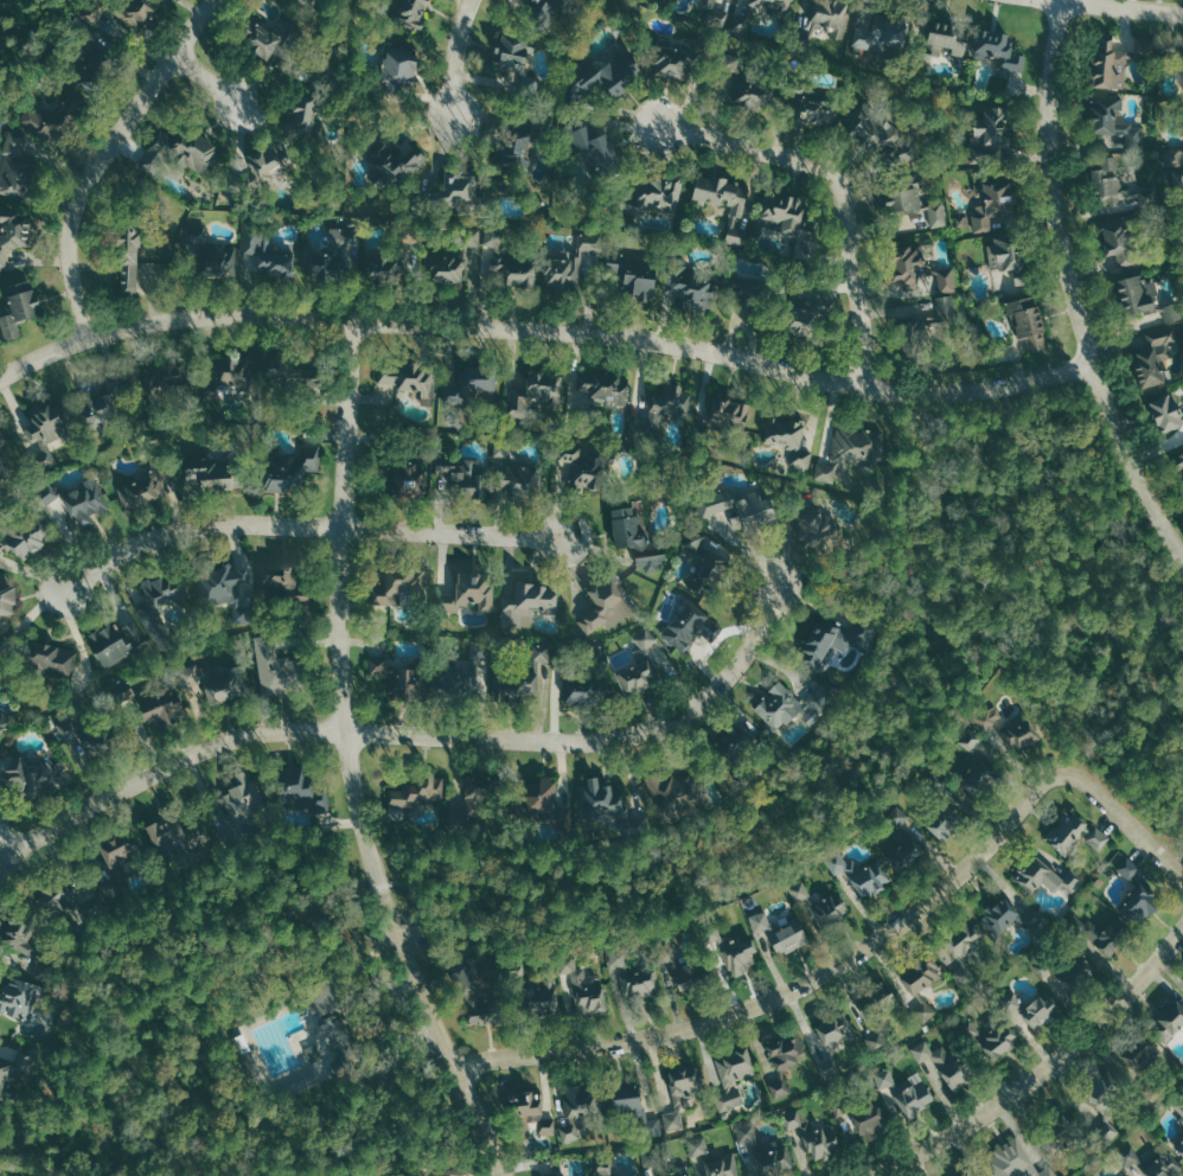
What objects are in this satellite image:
building: (303, 1)
building: (774, 6)
road: (1119, 6)
building: (409, 13)
road: (9, 14)
building: (545, 14)
building: (123, 15)
building: (712, 15)
building: (831, 17)
building: (881, 33)
building: (946, 36)
building: (260, 38)
building: (89, 41)
building: (998, 50)
road: (454, 53)
building: (1117, 58)
building: (671, 60)
building: (1182, 60)
building: (514, 62)
building: (90, 66)
building: (397, 73)
road: (209, 78)
building: (603, 79)
building: (748, 96)
building: (808, 109)
building: (52, 115)
building: (302, 115)
building: (1112, 119)
building: (881, 138)
building: (990, 140)
building: (180, 152)
building: (519, 152)
building: (596, 152)
building: (1172, 155)
road: (103, 156)
building: (396, 162)
building: (266, 164)
building: (15, 166)
building: (1177, 178)
building: (1119, 185)
road: (843, 186)
building: (456, 192)
building: (650, 198)
building: (991, 200)
building: (914, 202)
building: (725, 204)
building: (782, 216)
building: (9, 235)
building: (1128, 238)
building: (806, 244)
building: (210, 254)
building: (1010, 254)
building: (128, 255)
building: (331, 255)
building: (264, 257)
building: (450, 260)
building: (507, 263)
building: (909, 263)
building: (383, 266)
building: (569, 267)
building: (633, 275)
building: (143, 276)
building: (946, 281)
road: (1072, 287)
building: (689, 289)
building: (1144, 296)
building: (18, 307)
building: (947, 308)
building: (800, 321)
building: (1027, 322)
road: (544, 326)
building: (910, 339)
building: (1156, 353)
building: (234, 373)
building: (282, 373)
building: (410, 383)
building: (478, 385)
building: (546, 385)
building: (314, 388)
building: (602, 392)
building: (669, 404)
building: (519, 407)
building: (95, 410)
building: (1166, 410)
building: (728, 411)
building: (45, 432)
building: (791, 443)
building: (851, 446)
building: (501, 449)
building: (6, 453)
building: (1178, 460)
building: (290, 467)
building: (575, 469)
building: (826, 471)
building: (212, 475)
building: (409, 477)
building: (465, 478)
building: (519, 481)
building: (141, 488)
building: (79, 500)
road: (1048, 505)
building: (736, 513)
building: (819, 525)
road: (309, 526)
building: (28, 538)
building: (637, 538)
building: (0, 558)
building: (711, 558)
building: (282, 574)
building: (230, 587)
building: (392, 587)
road: (874, 592)
building: (468, 593)
building: (300, 599)
building: (7, 600)
building: (527, 601)
building: (608, 606)
building: (689, 626)
building: (831, 643)
building: (117, 644)
building: (53, 660)
building: (274, 665)
building: (641, 665)
building: (525, 675)
building: (217, 678)
building: (397, 678)
building: (581, 690)
building: (780, 705)
building: (161, 708)
building: (989, 717)
building: (4, 720)
building: (1024, 731)
road: (408, 734)
building: (971, 739)
road: (350, 760)
building: (978, 775)
building: (32, 778)
building: (936, 781)
building: (301, 791)
building: (418, 791)
building: (475, 791)
building: (542, 793)
building: (674, 794)
building: (244, 795)
building: (603, 799)
building: (403, 812)
building: (945, 819)
building: (1066, 830)
building: (171, 835)
road: (7, 838)
building: (1100, 838)
building: (903, 841)
building: (115, 851)
road: (1178, 856)
road: (622, 868)
building: (861, 874)
building: (1038, 875)
building: (799, 889)
building: (1138, 894)
building: (832, 907)
building: (1000, 915)
building: (761, 921)
building: (1101, 933)
building: (21, 935)
building: (714, 938)
building: (789, 938)
building: (963, 940)
road: (862, 947)
building: (741, 958)
parking lot: (390, 970)
building: (1078, 970)
building: (921, 973)
building: (633, 977)
building: (584, 986)
building: (474, 992)
building: (541, 996)
building: (324, 997)
building: (20, 998)
park: (319, 1002)
building: (878, 1002)
building: (923, 1008)
building: (1035, 1008)
building: (1169, 1021)
building: (838, 1031)
building: (990, 1037)
parking lot: (420, 1040)
building: (878, 1040)
building: (338, 1046)
building: (787, 1052)
building: (1140, 1054)
building: (944, 1062)
building: (932, 1068)
road: (1045, 1069)
building: (734, 1076)
building: (6, 1078)
building: (885, 1078)
building: (780, 1088)
building: (682, 1094)
building: (915, 1094)
building: (628, 1099)
building: (577, 1108)
building: (1179, 1108)
building: (526, 1111)
building: (868, 1123)
building: (548, 1126)
building: (1108, 1130)
building: (814, 1135)
building: (1179, 1144)
building: (699, 1145)
building: (767, 1150)
road: (30, 1156)
building: (1152, 1161)
building: (1017, 1162)
building: (723, 1165)
building: (606, 1168)
building: (555, 1174)
building: (676, 1174)
building: (971, 1175)
building: (986, 1175)
building: (1092, 1175)

